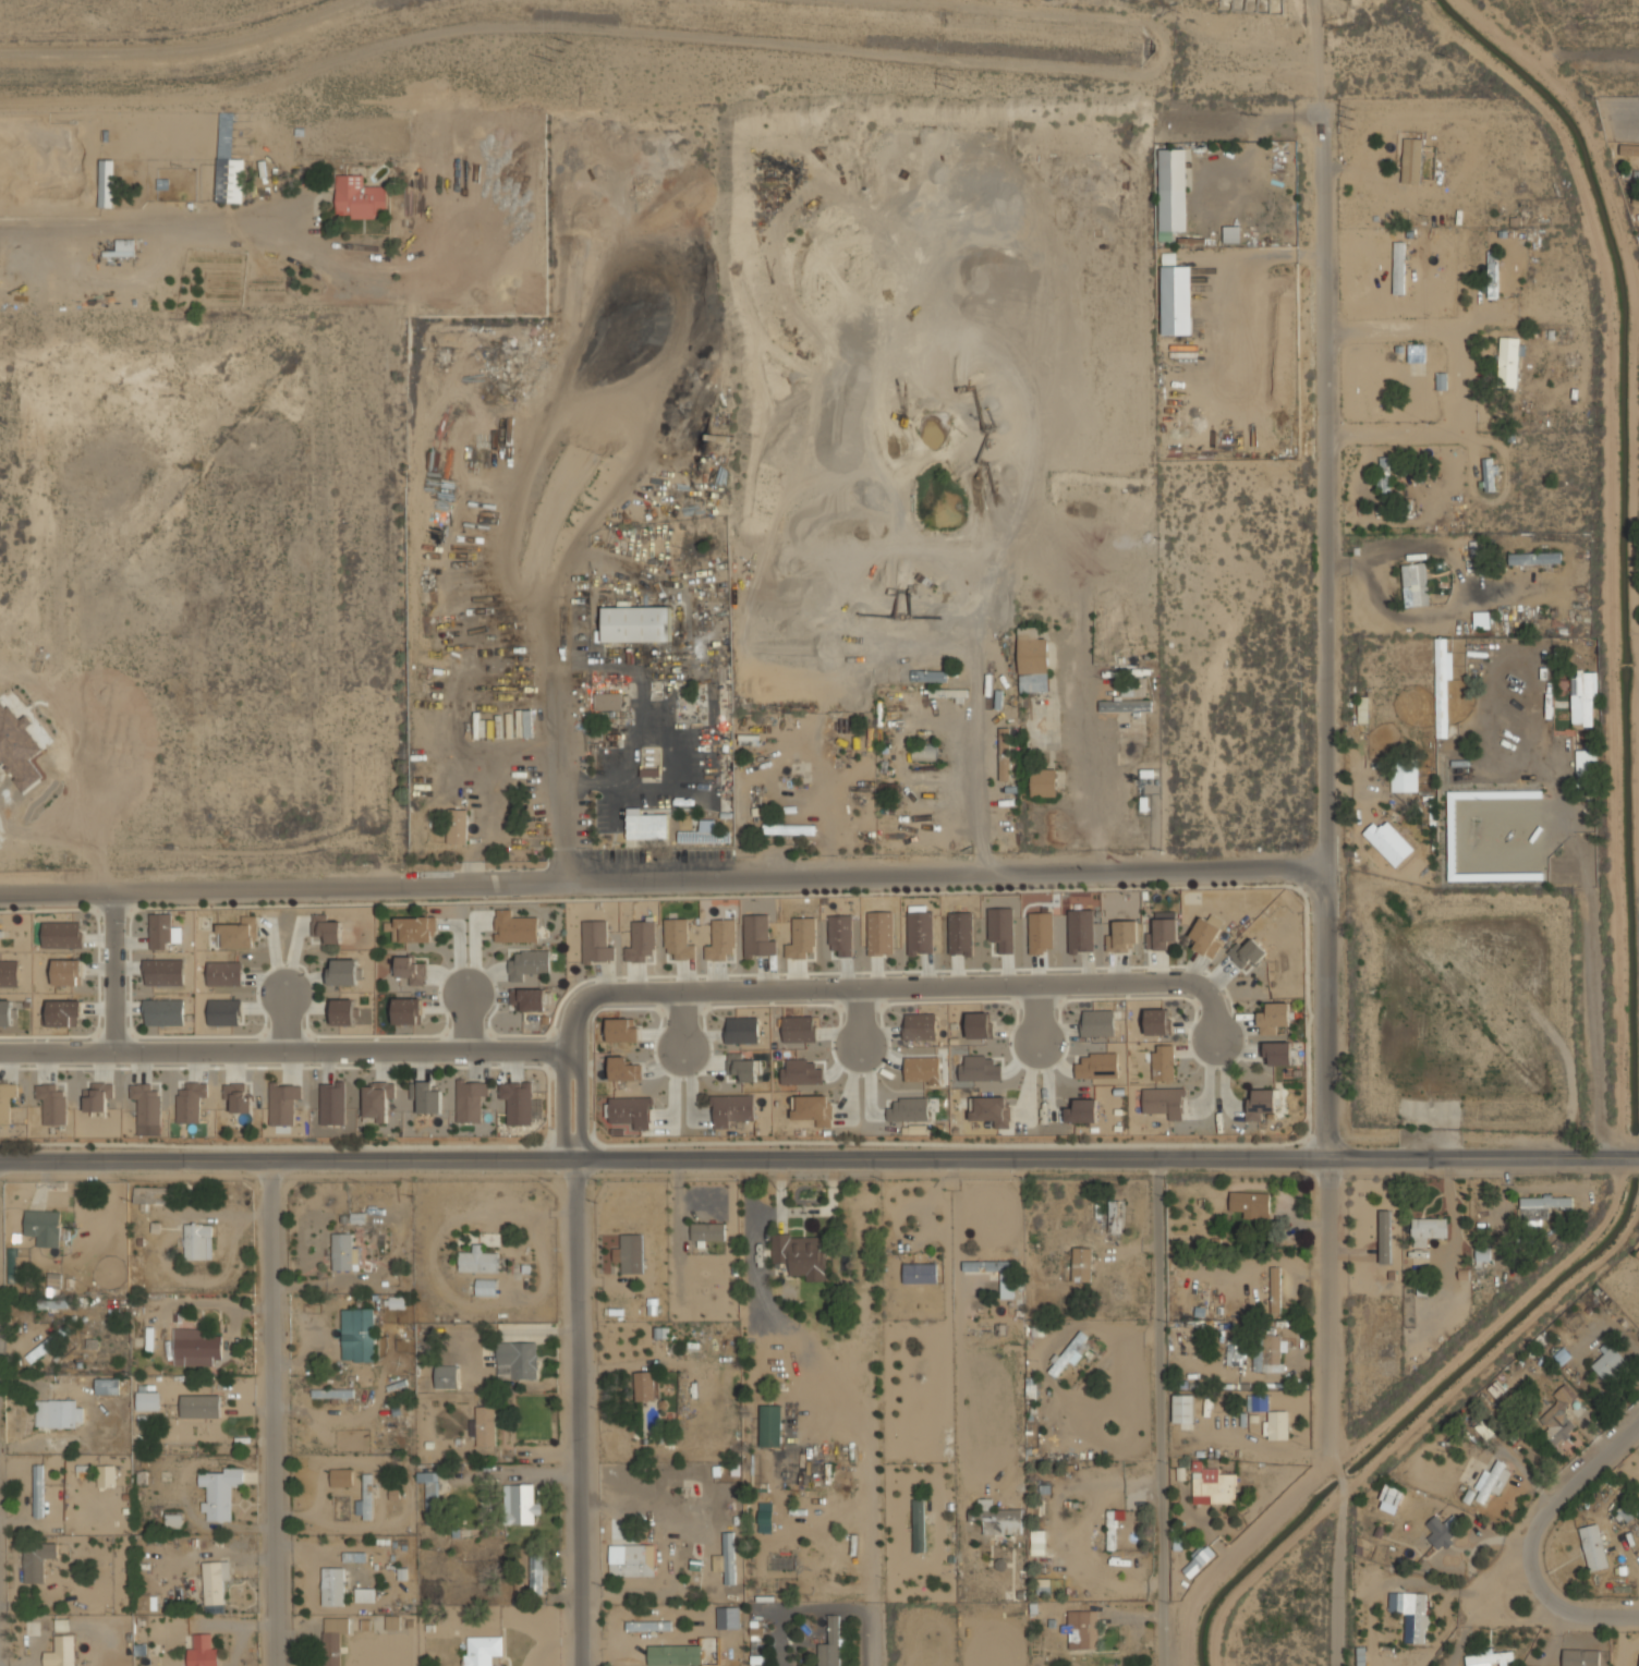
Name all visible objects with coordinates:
road: (731, 39)
road: (185, 48)
power tower: (559, 49)
dam: (1612, 72)
power tower: (951, 81)
power tower: (1350, 112)
building: (1406, 148)
building: (1628, 150)
building: (1411, 160)
building: (1635, 174)
building: (229, 177)
building: (106, 183)
building: (1171, 192)
building: (357, 197)
building: (1635, 198)
building: (1638, 228)
building: (1231, 234)
road: (1393, 238)
building: (124, 247)
building: (1167, 258)
building: (1396, 267)
building: (1492, 273)
building: (1176, 300)
building: (1417, 352)
building: (1507, 362)
road: (1464, 378)
building: (1372, 387)
building: (1385, 476)
building: (1534, 558)
building: (1410, 583)
building: (1481, 619)
building: (635, 623)
building: (1032, 660)
road: (575, 665)
building: (1441, 686)
building: (956, 694)
building: (1582, 697)
building: (608, 701)
building: (1125, 706)
building: (1363, 708)
building: (17, 747)
building: (1004, 754)
building: (1585, 765)
road: (1093, 768)
building: (649, 771)
road: (981, 778)
building: (1404, 778)
building: (1044, 782)
building: (645, 825)
building: (456, 826)
building: (1396, 827)
building: (788, 829)
building: (704, 834)
building: (1388, 842)
road: (661, 883)
road: (1324, 884)
building: (326, 927)
building: (514, 927)
building: (1001, 928)
building: (1164, 928)
building: (411, 929)
building: (160, 931)
building: (1080, 931)
building: (920, 932)
building: (1041, 932)
building: (238, 933)
building: (879, 933)
building: (960, 933)
building: (61, 934)
building: (840, 934)
building: (1204, 935)
building: (757, 936)
building: (1122, 936)
building: (678, 939)
building: (801, 939)
building: (640, 940)
building: (721, 940)
building: (595, 941)
building: (1249, 953)
building: (527, 966)
building: (410, 970)
building: (342, 971)
building: (66, 972)
road: (112, 972)
building: (163, 972)
building: (9, 973)
building: (223, 973)
road: (885, 986)
building: (527, 998)
building: (406, 1010)
building: (223, 1011)
building: (343, 1011)
building: (5, 1012)
building: (63, 1012)
building: (163, 1012)
road: (1039, 1013)
building: (1274, 1017)
road: (283, 1019)
road: (859, 1019)
road: (465, 1020)
building: (1156, 1021)
road: (681, 1022)
building: (1106, 1022)
building: (979, 1025)
building: (920, 1026)
building: (799, 1029)
building: (621, 1030)
building: (742, 1030)
road: (284, 1051)
building: (1278, 1053)
building: (1163, 1062)
building: (1108, 1065)
building: (741, 1067)
road: (568, 1068)
building: (922, 1068)
building: (623, 1069)
building: (800, 1071)
building: (2, 1095)
building: (97, 1096)
building: (238, 1096)
building: (425, 1096)
building: (1164, 1102)
building: (1260, 1102)
building: (812, 1108)
building: (908, 1116)
building: (187, 1117)
building: (375, 1117)
building: (469, 1117)
building: (1081, 1117)
building: (4, 1118)
building: (54, 1118)
building: (149, 1118)
building: (281, 1118)
building: (332, 1118)
building: (519, 1118)
building: (730, 1118)
building: (993, 1118)
building: (632, 1119)
road: (572, 1150)
road: (818, 1157)
building: (1251, 1204)
building: (1539, 1207)
building: (1116, 1216)
building: (43, 1227)
building: (1426, 1229)
building: (1382, 1230)
building: (707, 1231)
building: (197, 1241)
building: (342, 1251)
building: (630, 1253)
building: (799, 1254)
building: (477, 1261)
building: (1081, 1264)
building: (919, 1273)
building: (53, 1279)
building: (1006, 1285)
building: (485, 1287)
building: (1276, 1289)
building: (397, 1302)
building: (51, 1303)
building: (357, 1334)
road: (1158, 1339)
building: (44, 1346)
building: (195, 1347)
building: (1070, 1352)
building: (1235, 1352)
building: (1267, 1354)
building: (517, 1360)
building: (1608, 1363)
building: (446, 1376)
building: (645, 1385)
building: (107, 1386)
building: (332, 1393)
building: (147, 1400)
building: (1256, 1402)
building: (199, 1406)
building: (1183, 1408)
building: (54, 1412)
road: (271, 1412)
road: (576, 1412)
building: (1558, 1415)
building: (1276, 1424)
building: (769, 1425)
building: (484, 1426)
building: (106, 1475)
building: (341, 1477)
building: (1493, 1480)
building: (1212, 1485)
building: (429, 1489)
building: (38, 1491)
building: (219, 1492)
building: (1392, 1494)
building: (365, 1498)
building: (519, 1504)
building: (1624, 1512)
building: (173, 1517)
building: (764, 1517)
building: (998, 1518)
building: (919, 1525)
building: (1113, 1529)
building: (1440, 1533)
road: (1528, 1539)
building: (1037, 1542)
building: (1593, 1546)
building: (726, 1558)
building: (631, 1559)
building: (36, 1560)
building: (1198, 1560)
building: (535, 1573)
building: (215, 1585)
building: (332, 1585)
building: (364, 1594)
road: (1161, 1594)
road: (800, 1608)
building: (1411, 1609)
building: (727, 1617)
building: (391, 1622)
building: (648, 1626)
building: (1082, 1629)
road: (871, 1632)
building: (332, 1640)
building: (830, 1644)
building: (202, 1651)
building: (482, 1651)
building: (61, 1652)
building: (1489, 1657)
building: (1581, 1657)

